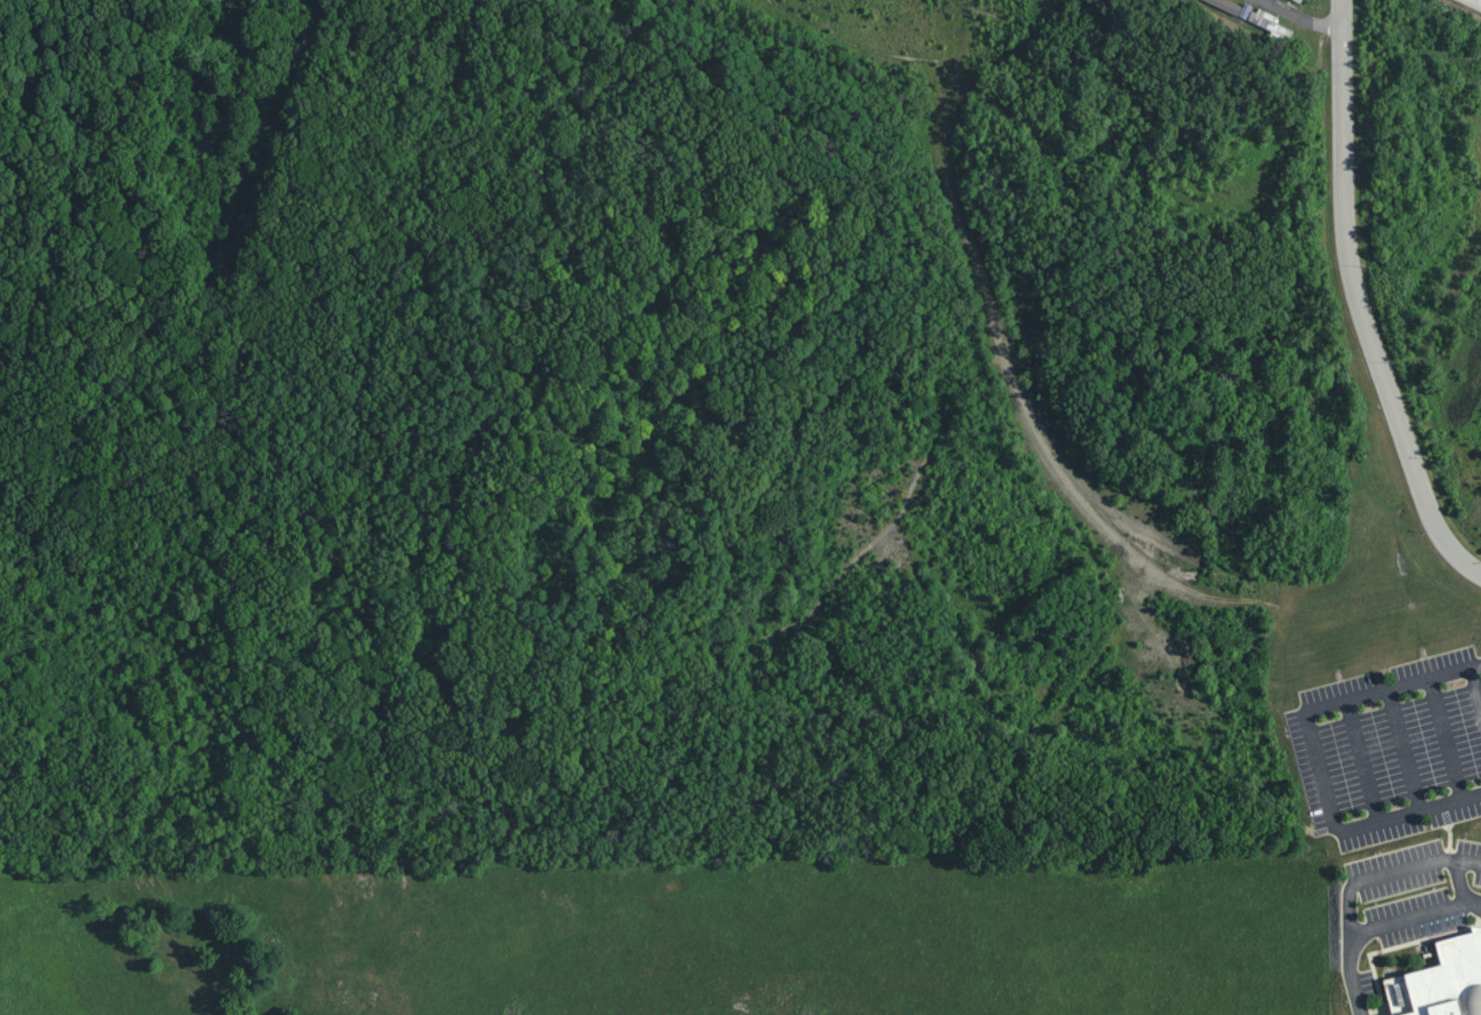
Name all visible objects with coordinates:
building: (1297, 1)
road: (1477, 1)
building: (1229, 7)
road: (1307, 15)
building: (1268, 23)
road: (87, 119)
road: (581, 120)
park: (61, 126)
road: (1356, 301)
park: (396, 422)
road: (1058, 440)
road: (253, 506)
road: (880, 540)
park: (1003, 566)
road: (508, 662)
road: (1475, 665)
road: (1475, 688)
road: (863, 709)
road: (1445, 739)
road: (226, 747)
parking lot: (1391, 749)
road: (1404, 750)
road: (1319, 761)
road: (1362, 761)
road: (1391, 873)
road: (1459, 880)
parking lot: (1417, 889)
road: (1415, 917)
road: (1350, 975)
building: (1442, 981)

